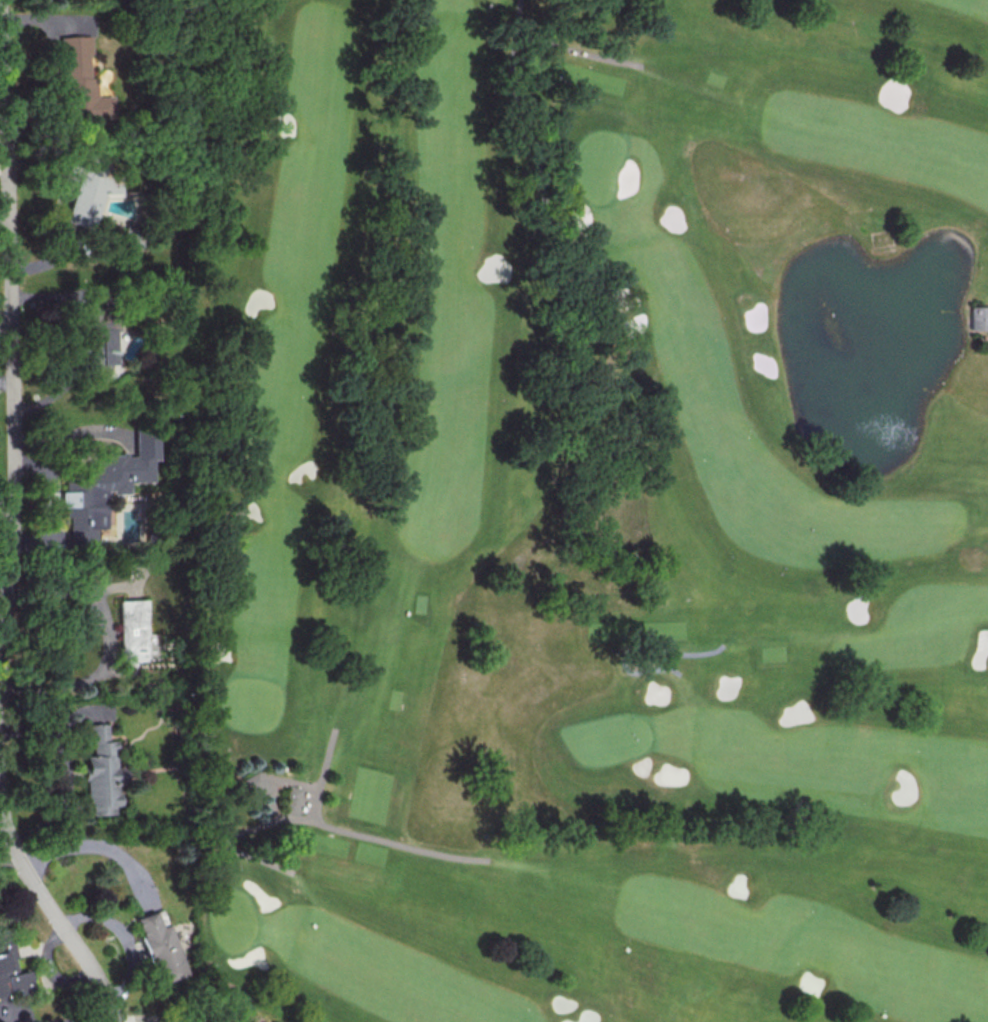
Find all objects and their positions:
road: (577, 51)
road: (50, 66)
building: (78, 82)
road: (528, 129)
building: (83, 194)
building: (979, 318)
road: (77, 339)
road: (8, 341)
building: (101, 342)
building: (106, 484)
road: (6, 505)
park: (586, 507)
building: (135, 633)
road: (109, 639)
road: (637, 650)
building: (101, 771)
road: (322, 775)
road: (289, 782)
building: (253, 783)
road: (271, 798)
building: (291, 800)
road: (319, 823)
road: (83, 847)
road: (52, 919)
road: (125, 937)
building: (160, 946)
building: (10, 966)
road: (143, 1019)

